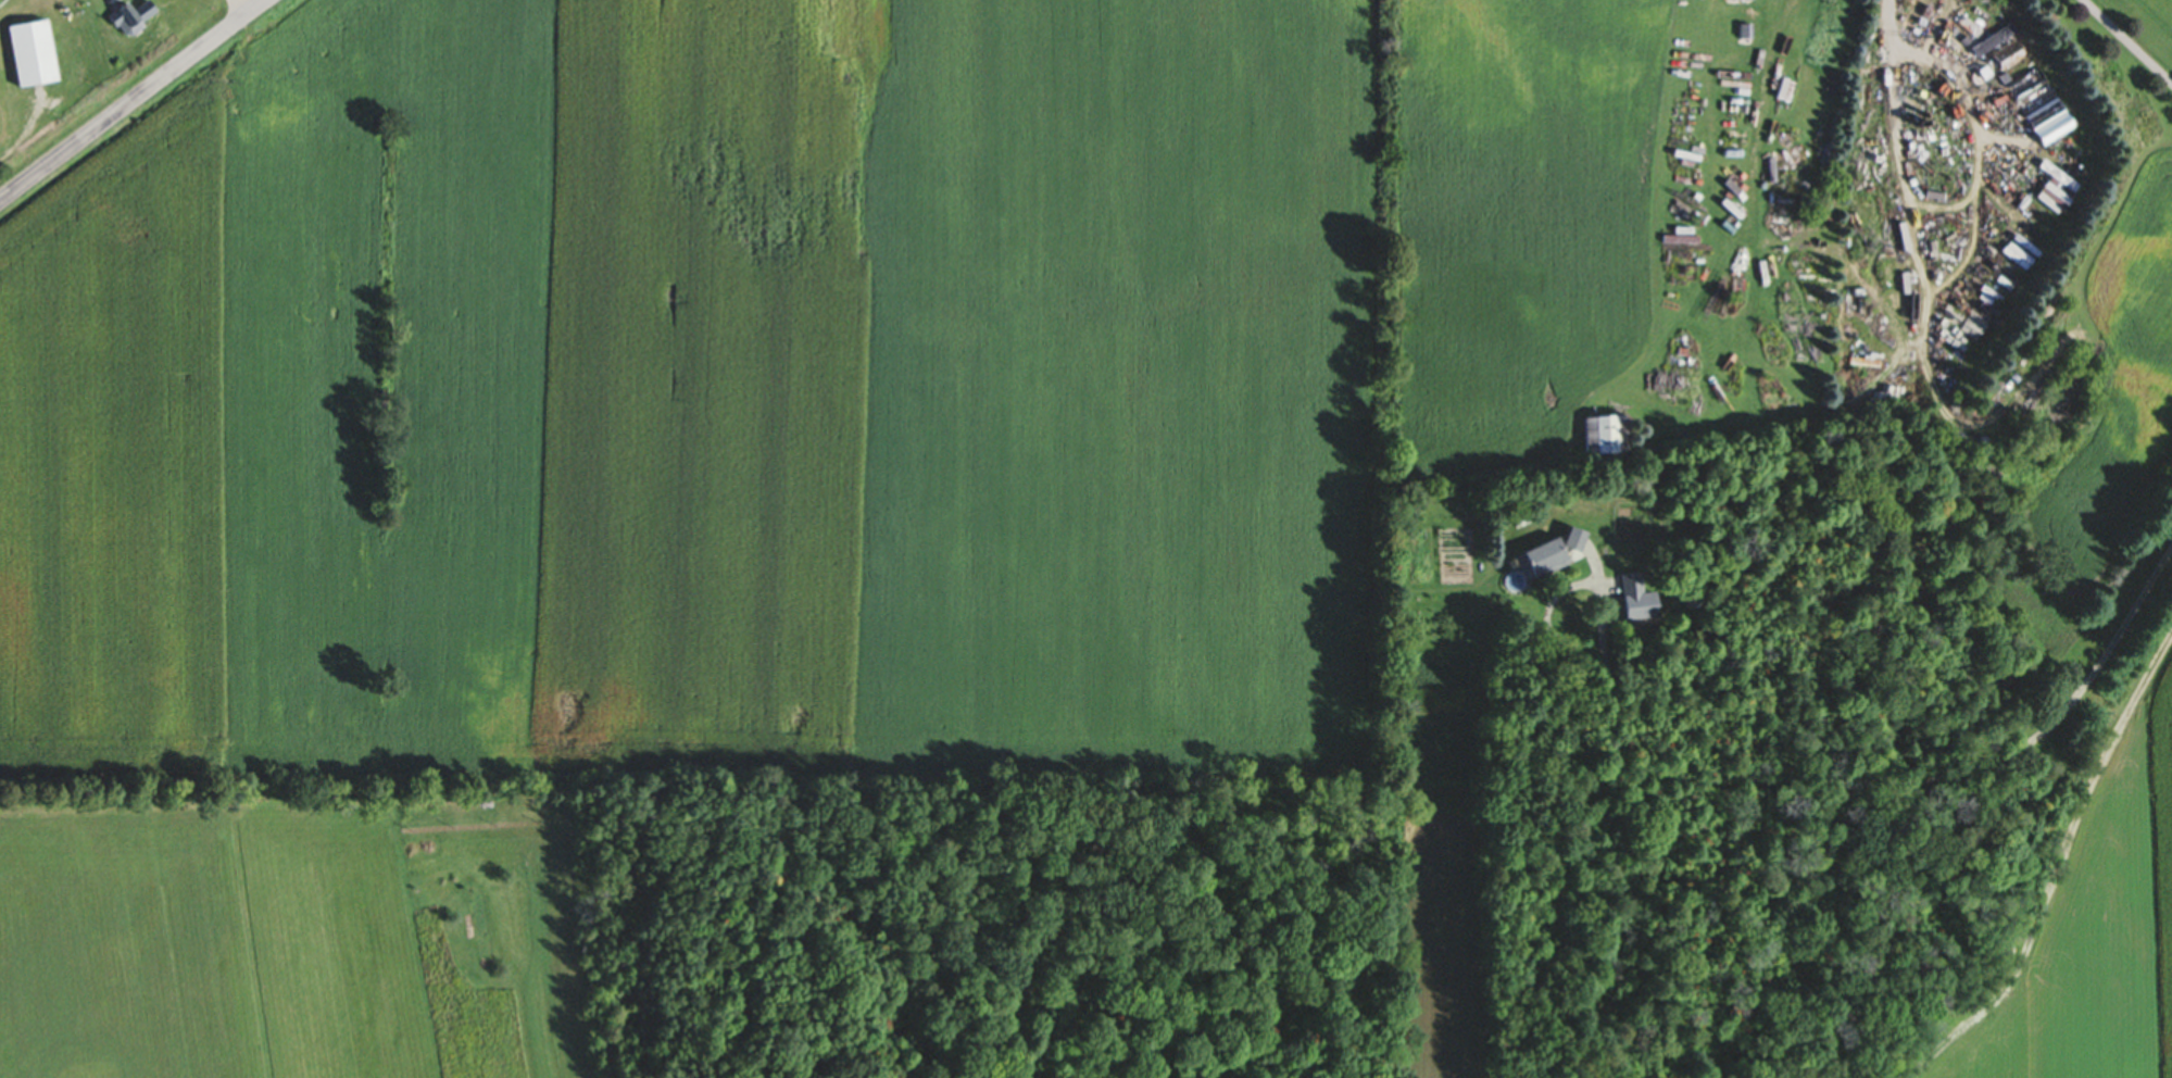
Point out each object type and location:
road: (112, 0)
road: (241, 8)
building: (126, 18)
building: (1996, 42)
road: (2125, 43)
building: (25, 55)
road: (134, 102)
building: (2054, 129)
road: (1904, 158)
building: (1602, 436)
building: (1549, 554)
road: (1855, 778)

